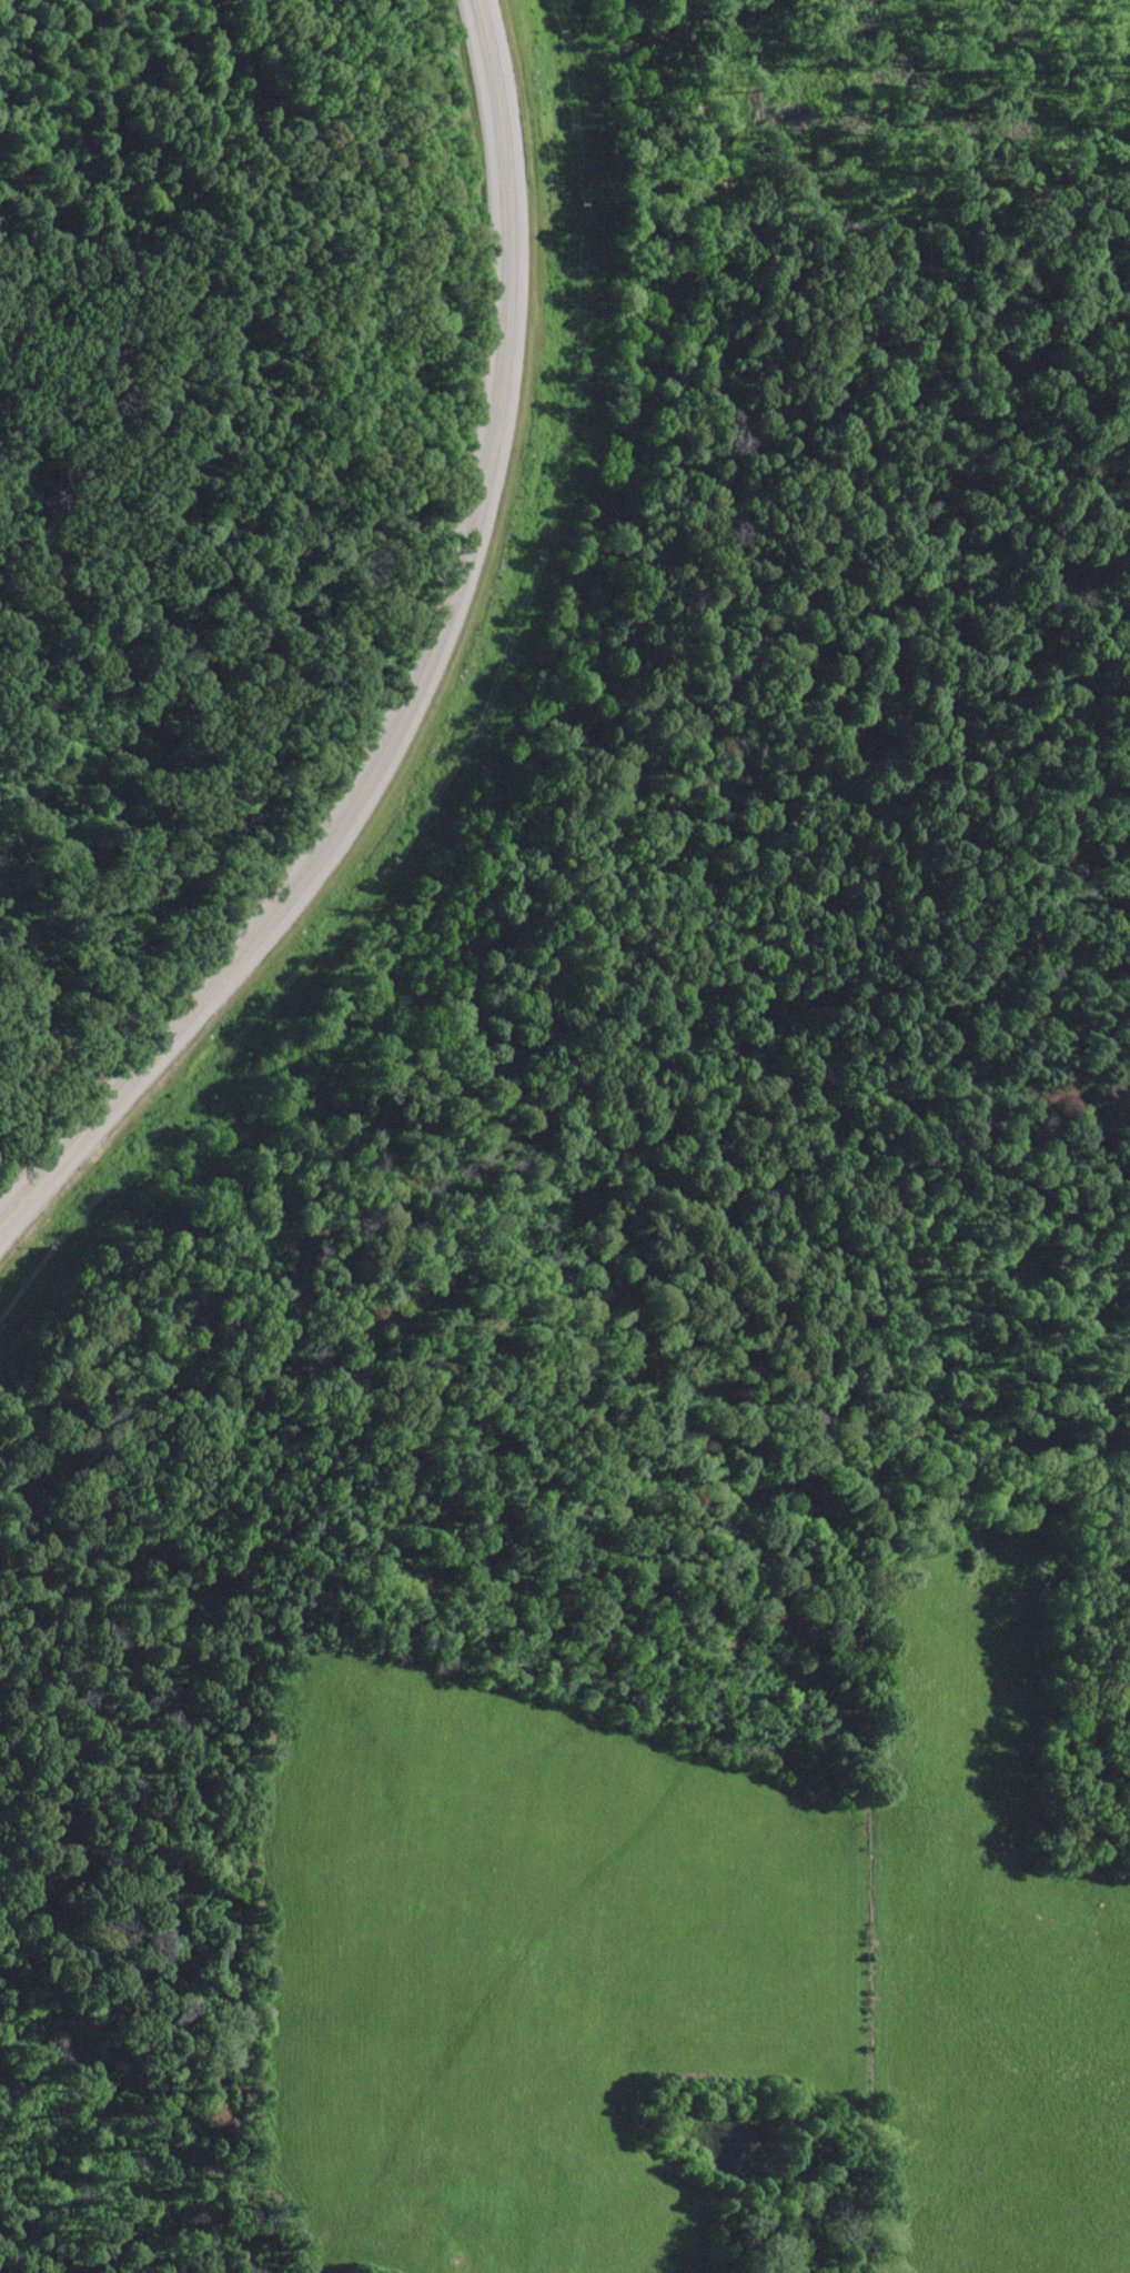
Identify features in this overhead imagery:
road: (240, 460)
road: (416, 678)

